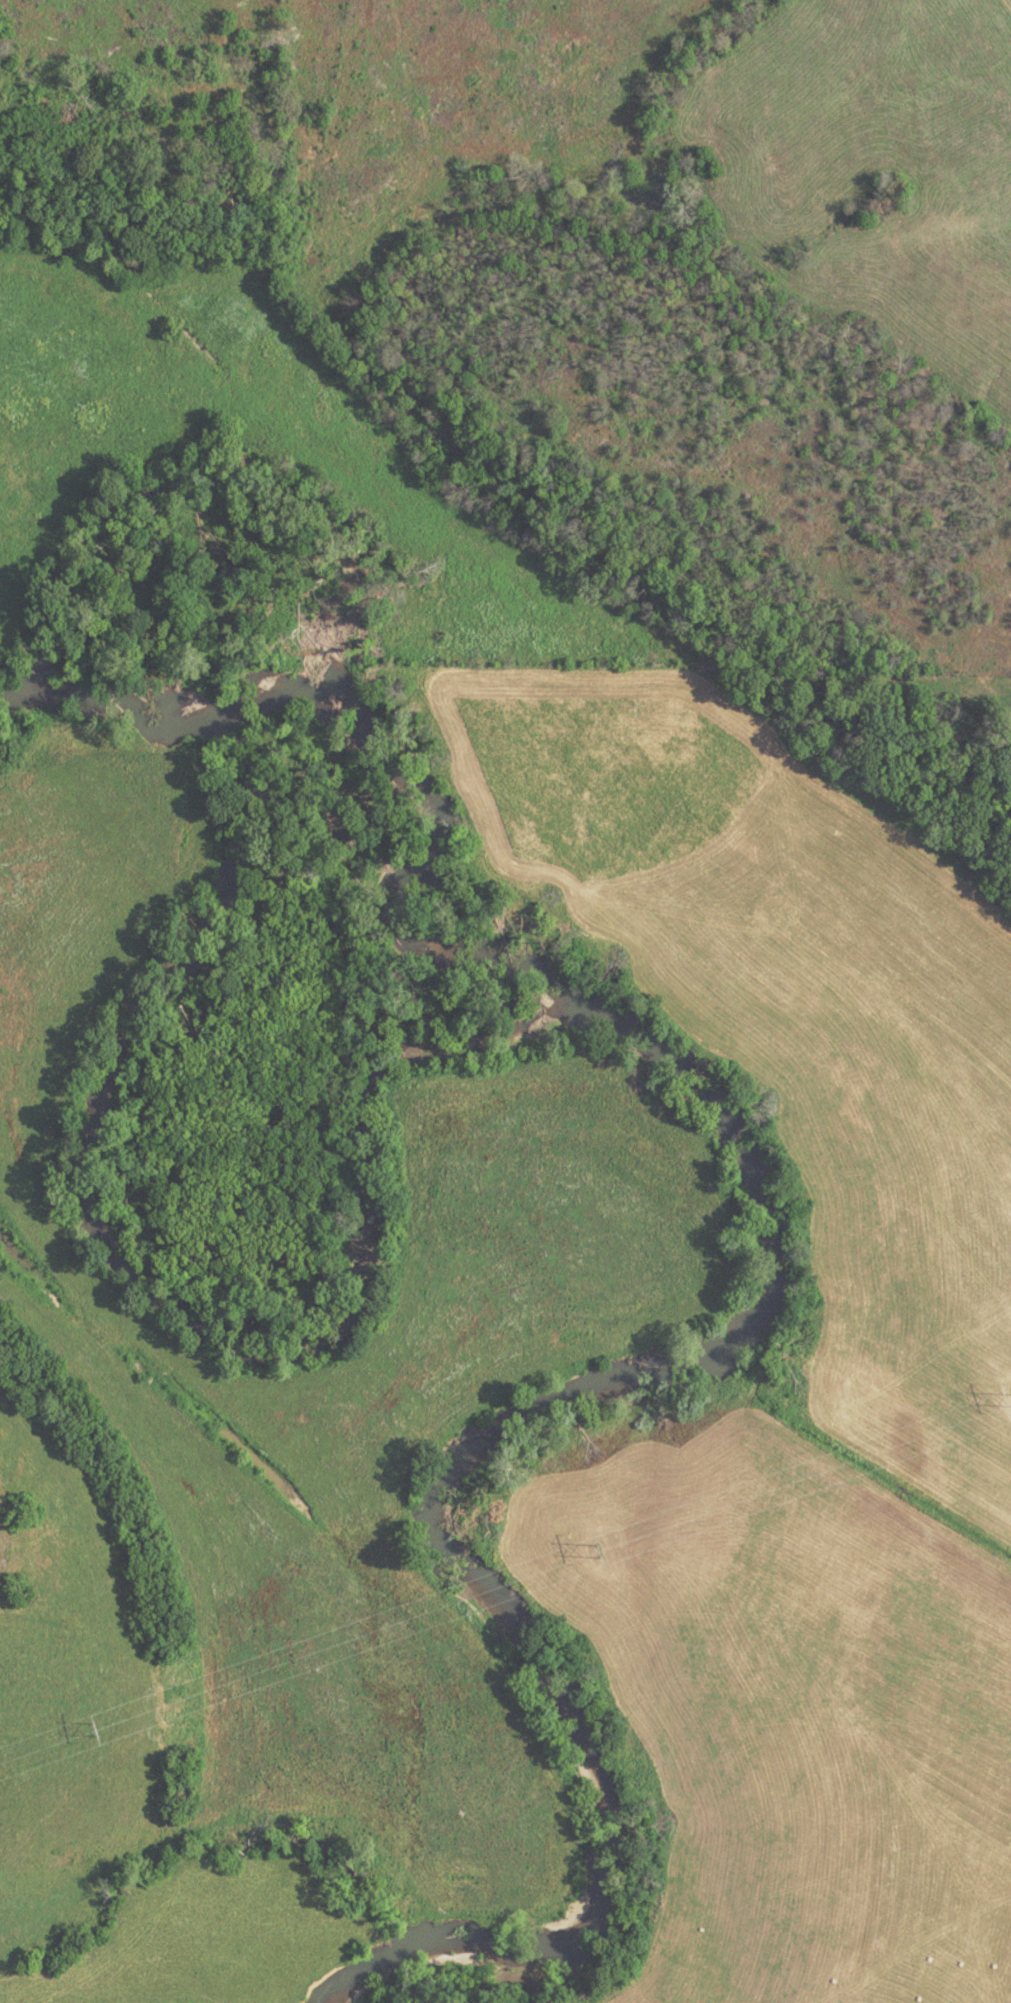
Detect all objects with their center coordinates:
river: (737, 1300)
power tower: (595, 1552)
power tower: (91, 1729)

